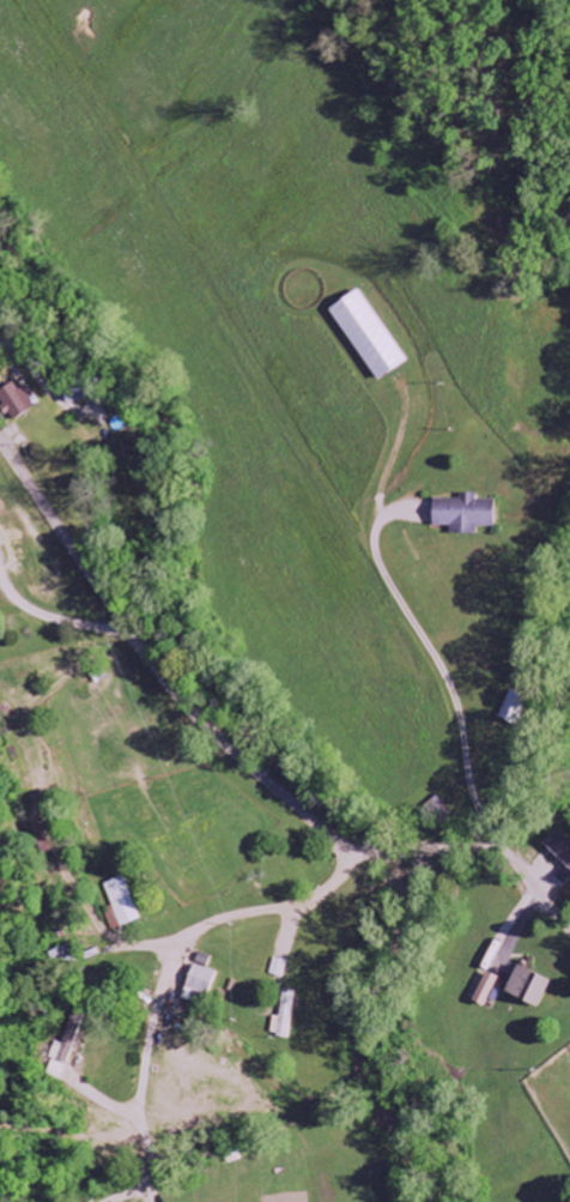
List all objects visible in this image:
building: (365, 336)
building: (17, 401)
building: (463, 514)
road: (436, 660)
road: (157, 666)
building: (510, 706)
road: (87, 731)
building: (558, 846)
road: (481, 848)
building: (123, 901)
road: (257, 912)
road: (255, 974)
building: (199, 985)
building: (527, 986)
building: (483, 987)
building: (67, 1045)

